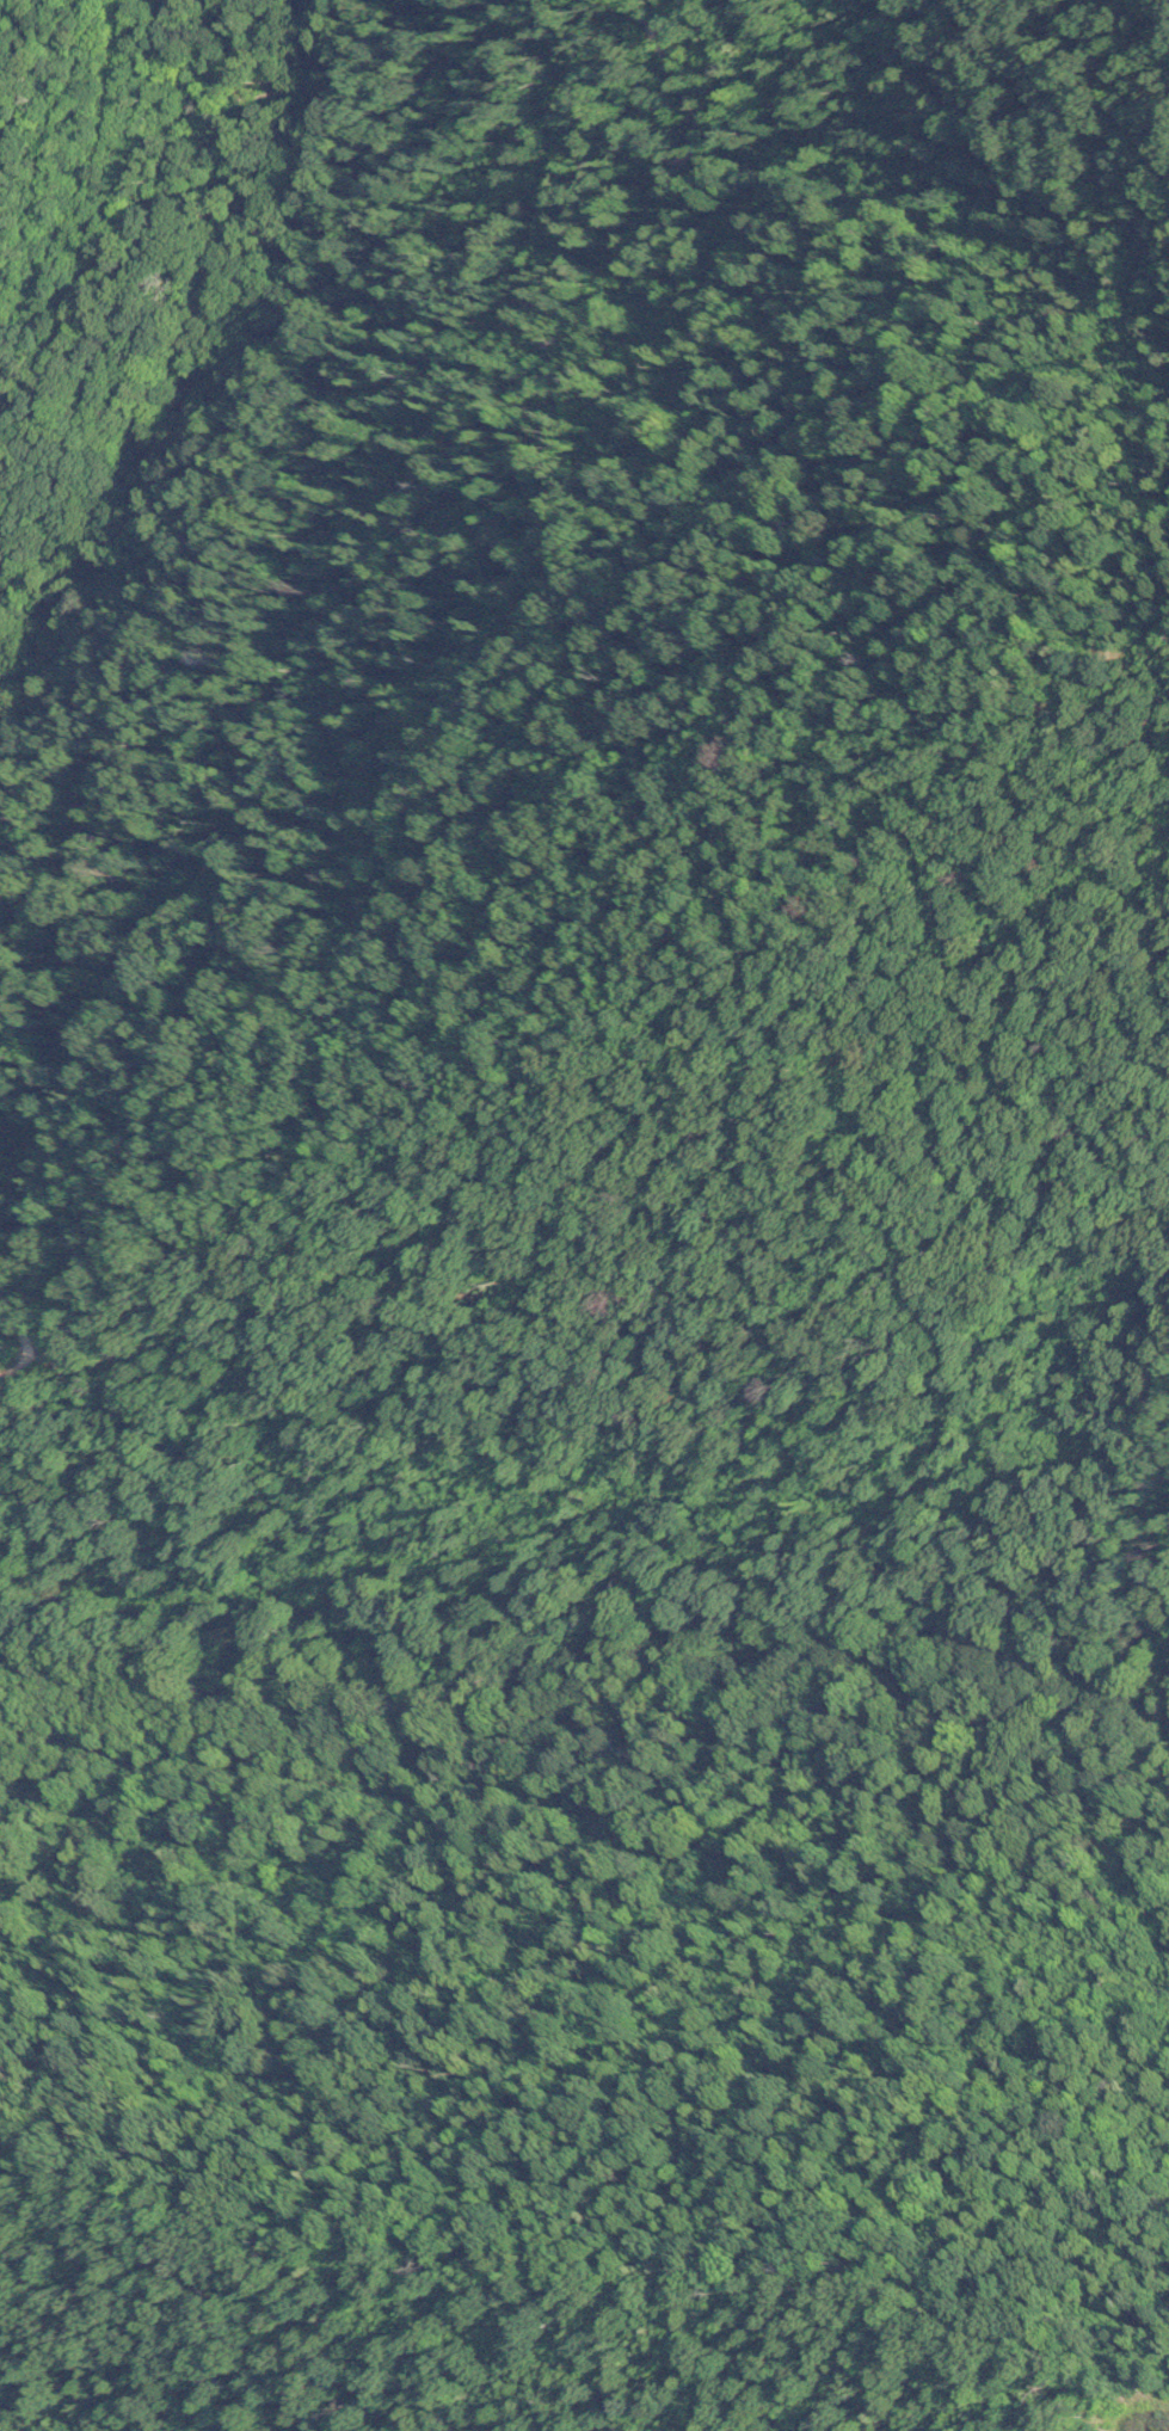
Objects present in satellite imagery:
quarry: (1112, 2404)

